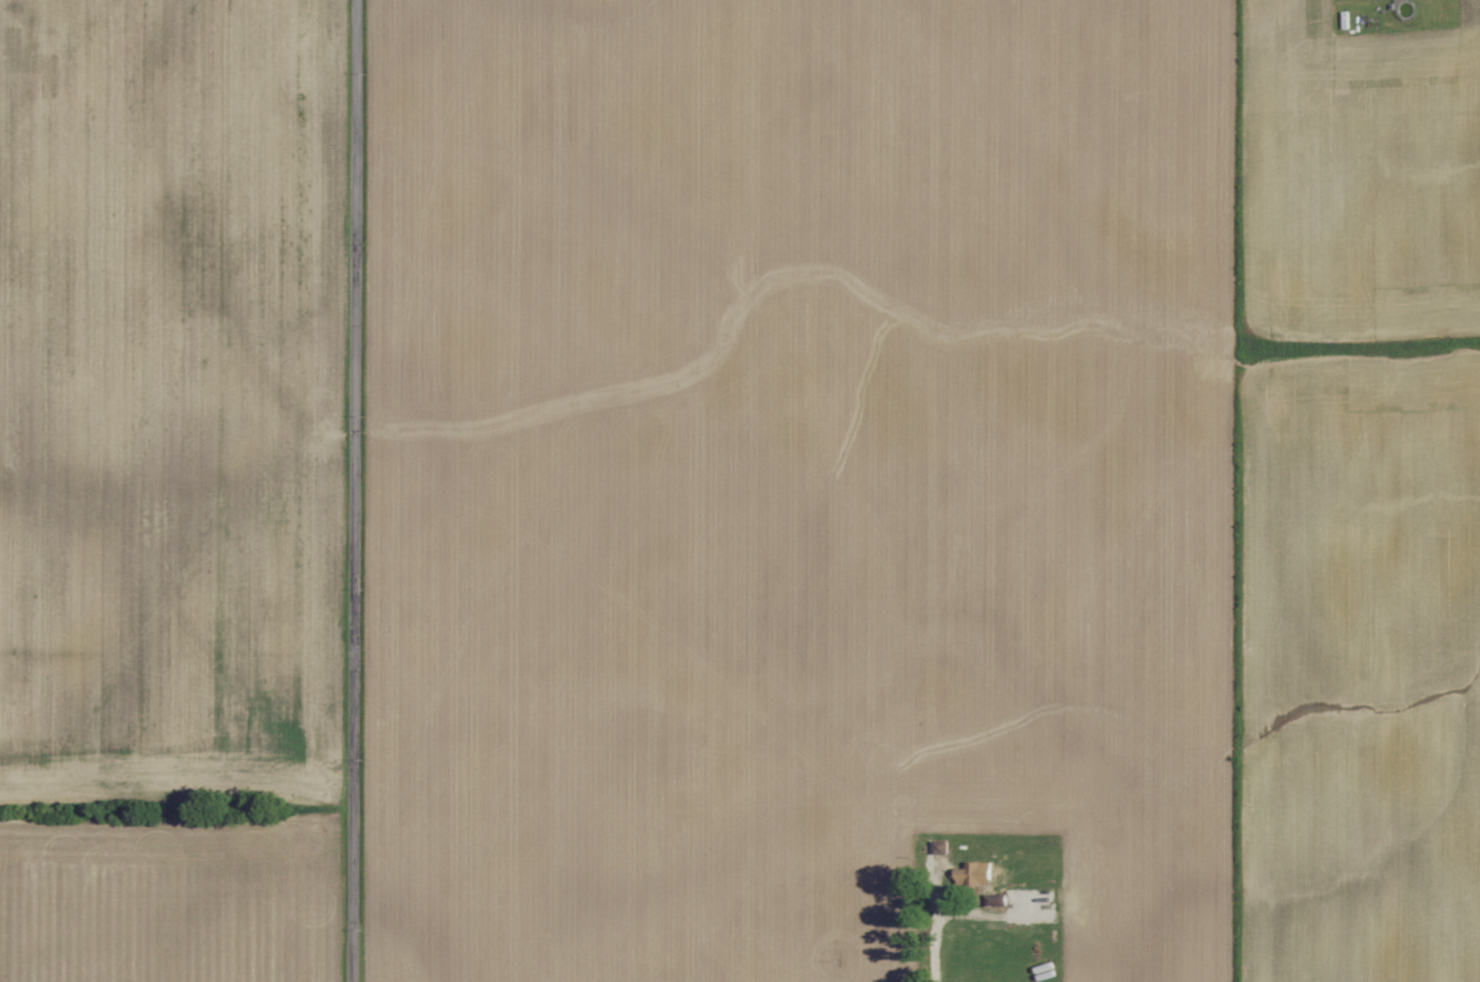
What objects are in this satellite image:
road: (356, 491)
building: (974, 873)
road: (942, 917)

